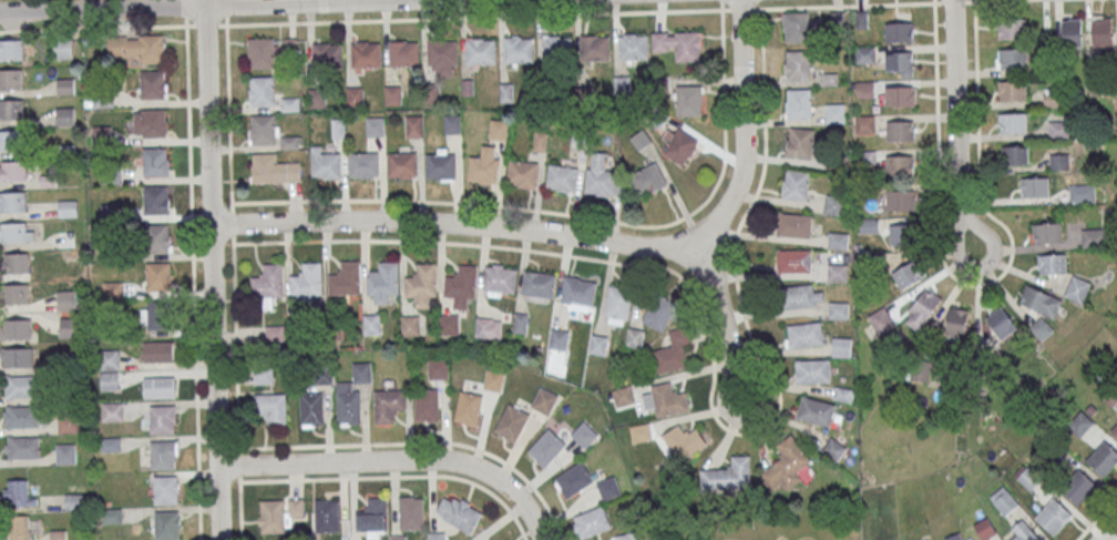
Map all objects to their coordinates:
road: (988, 0)
road: (206, 6)
road: (225, 8)
road: (185, 9)
road: (594, 12)
road: (205, 24)
building: (796, 27)
road: (96, 28)
building: (1012, 29)
building: (1103, 30)
building: (900, 31)
building: (1073, 32)
building: (678, 43)
building: (595, 47)
building: (633, 47)
building: (63, 48)
building: (136, 48)
building: (557, 48)
building: (11, 49)
building: (519, 49)
building: (481, 51)
building: (260, 52)
building: (327, 52)
building: (441, 52)
building: (403, 53)
building: (864, 54)
building: (366, 55)
building: (1012, 58)
building: (900, 63)
building: (798, 64)
building: (10, 79)
building: (153, 84)
building: (622, 84)
building: (64, 85)
building: (864, 89)
building: (262, 90)
building: (1012, 90)
building: (393, 94)
building: (900, 95)
building: (317, 96)
building: (356, 96)
building: (688, 100)
building: (798, 103)
building: (10, 109)
building: (834, 112)
building: (65, 116)
building: (150, 122)
building: (1012, 122)
building: (452, 123)
building: (864, 123)
building: (376, 125)
building: (413, 125)
road: (955, 125)
building: (263, 129)
building: (499, 129)
building: (901, 130)
building: (1058, 130)
building: (11, 140)
building: (288, 141)
building: (799, 142)
building: (677, 145)
building: (1018, 154)
building: (155, 161)
building: (326, 163)
building: (365, 164)
building: (402, 164)
building: (441, 164)
building: (899, 164)
building: (484, 165)
building: (274, 169)
building: (12, 170)
building: (523, 173)
building: (602, 176)
building: (562, 177)
building: (648, 179)
building: (796, 184)
building: (1035, 186)
building: (1082, 192)
building: (156, 198)
building: (901, 198)
building: (12, 201)
building: (834, 205)
building: (68, 208)
building: (793, 225)
building: (13, 232)
building: (1047, 232)
building: (901, 234)
building: (1094, 236)
building: (157, 237)
road: (580, 237)
road: (453, 241)
building: (793, 261)
building: (14, 262)
building: (1053, 263)
road: (212, 269)
building: (838, 273)
building: (909, 274)
building: (158, 276)
road: (232, 277)
road: (193, 278)
building: (345, 278)
building: (500, 278)
building: (307, 279)
building: (267, 282)
building: (383, 282)
building: (539, 284)
building: (422, 285)
building: (461, 285)
building: (1077, 288)
building: (17, 294)
building: (578, 294)
building: (802, 295)
building: (66, 299)
building: (1041, 300)
building: (618, 305)
building: (839, 309)
building: (922, 309)
building: (659, 312)
building: (154, 314)
road: (725, 315)
building: (881, 319)
building: (1001, 322)
building: (449, 323)
building: (957, 323)
building: (371, 324)
building: (70, 327)
building: (488, 327)
building: (16, 328)
building: (805, 334)
building: (635, 337)
building: (558, 338)
building: (598, 344)
building: (841, 347)
building: (158, 350)
building: (674, 351)
building: (18, 356)
building: (109, 358)
building: (438, 368)
building: (813, 370)
building: (920, 371)
building: (324, 374)
building: (263, 375)
building: (494, 379)
building: (109, 380)
building: (20, 386)
building: (160, 387)
building: (351, 395)
building: (668, 399)
building: (544, 400)
building: (389, 405)
building: (427, 405)
building: (271, 408)
building: (311, 408)
building: (468, 408)
building: (816, 410)
building: (112, 411)
building: (20, 416)
building: (162, 418)
building: (68, 422)
building: (512, 422)
building: (1080, 424)
building: (1115, 429)
building: (641, 432)
building: (585, 434)
building: (684, 440)
building: (110, 445)
building: (21, 447)
building: (546, 447)
building: (834, 449)
building: (65, 452)
building: (163, 454)
building: (1103, 459)
road: (397, 461)
building: (786, 465)
building: (728, 475)
road: (397, 476)
building: (1028, 478)
building: (574, 479)
building: (1078, 487)
building: (609, 488)
building: (166, 489)
building: (18, 493)
building: (1004, 499)
building: (411, 512)
building: (459, 512)
building: (279, 513)
building: (112, 514)
building: (326, 514)
building: (1054, 517)
road: (1096, 517)
building: (373, 518)
building: (592, 522)
building: (167, 524)
park: (756, 526)
building: (19, 528)
building: (985, 528)
building: (1024, 531)
road: (1111, 534)
building: (626, 537)
park: (783, 537)
building: (955, 537)
building: (398, 538)
park: (808, 538)

